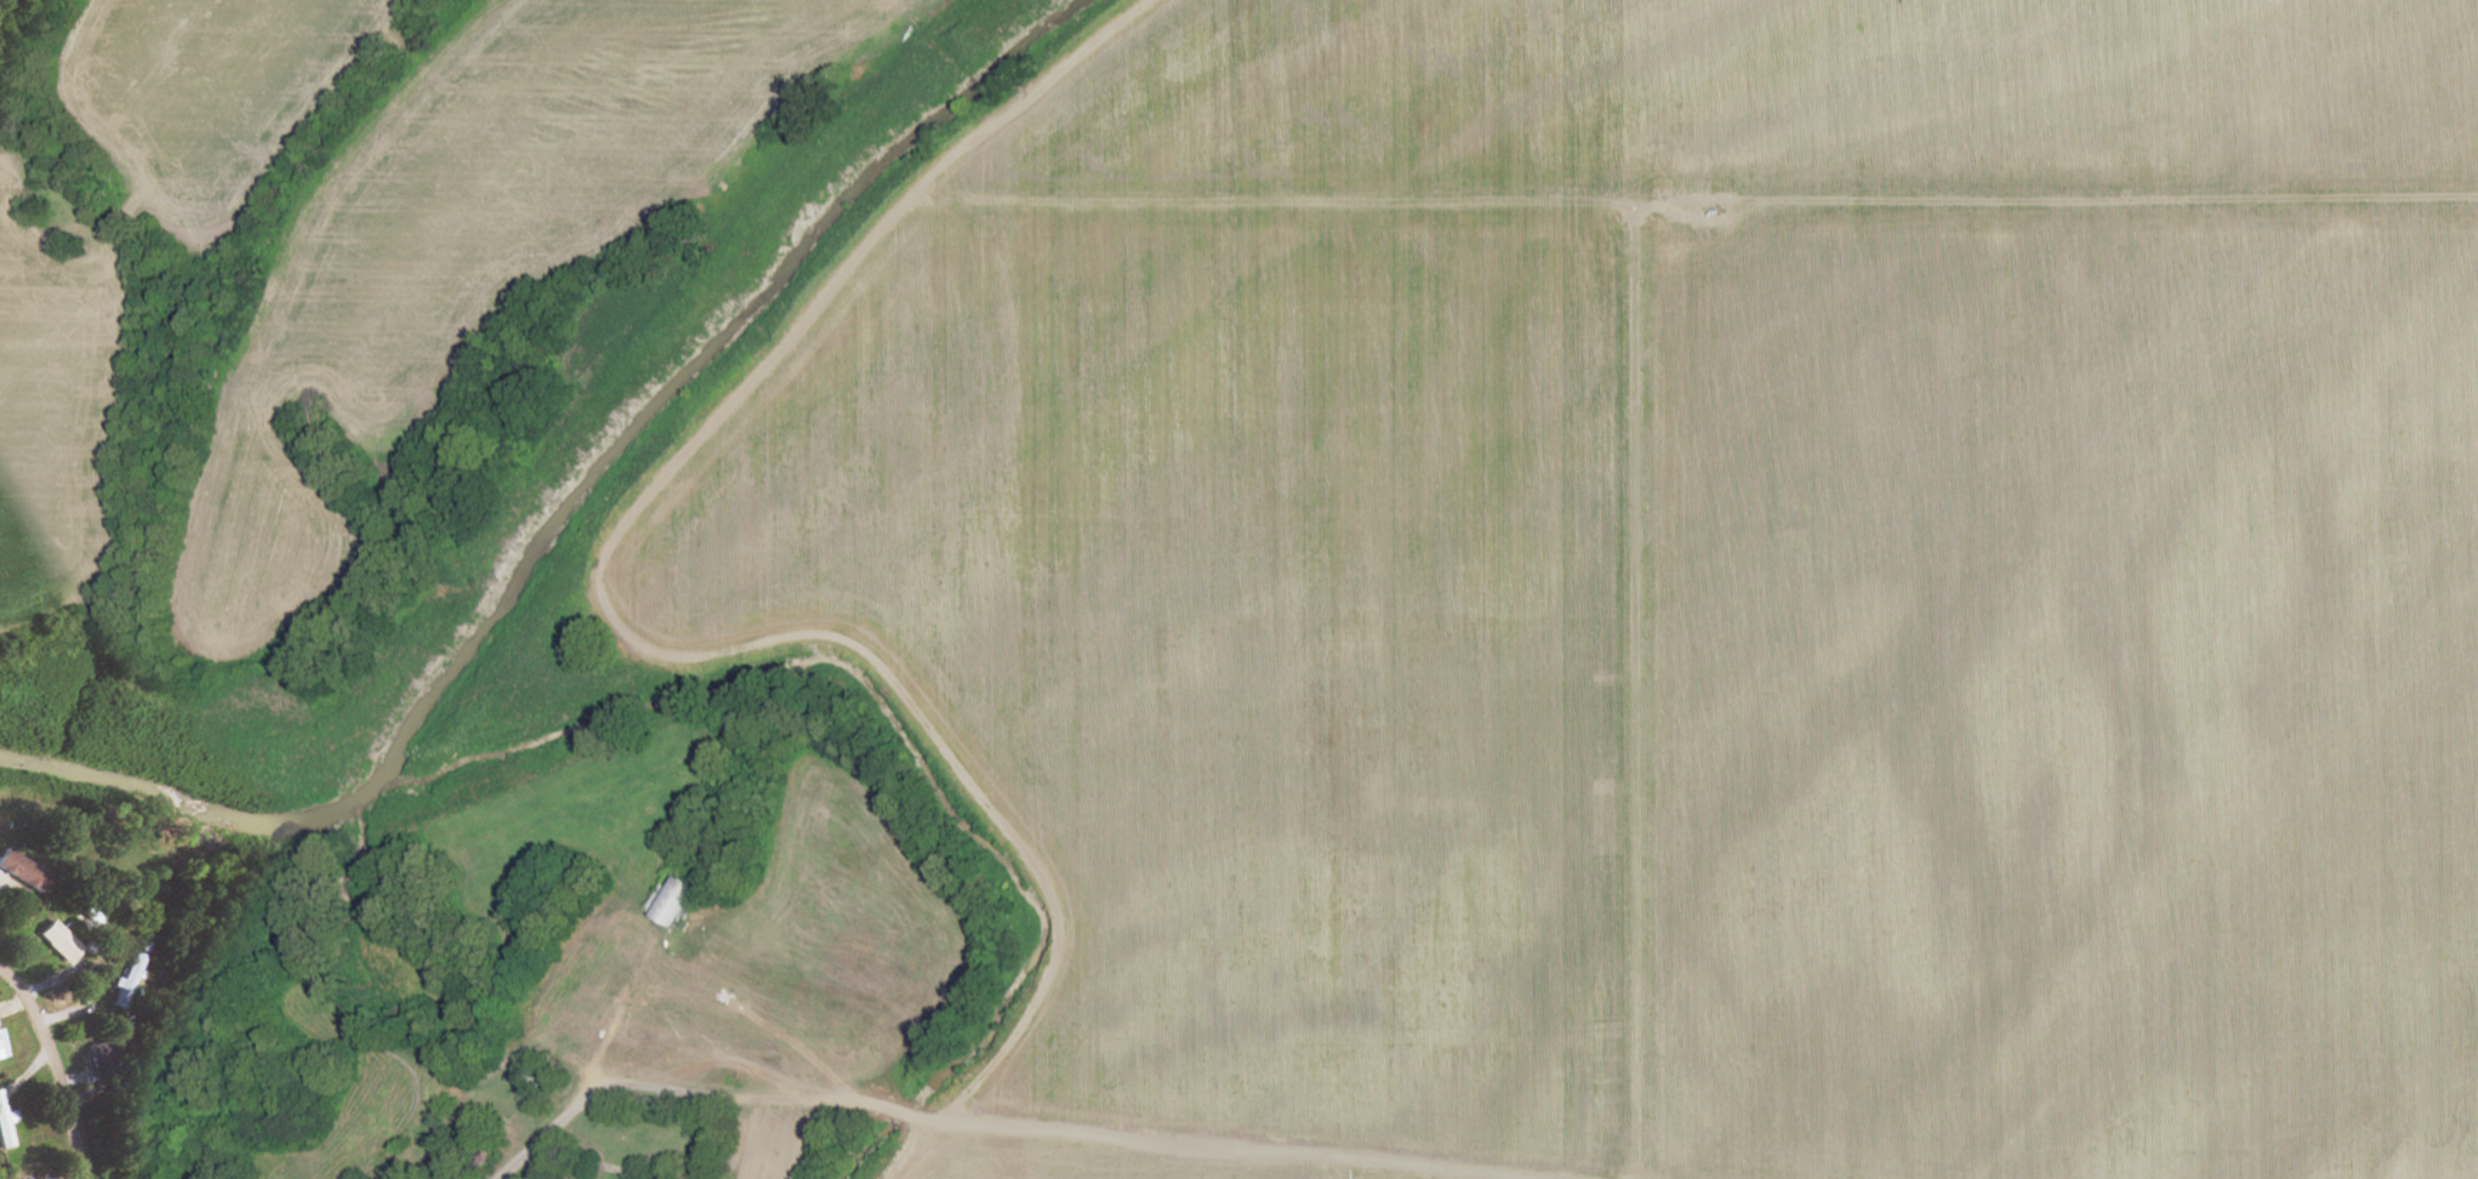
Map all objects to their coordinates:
building: (18, 873)
building: (668, 902)
building: (90, 915)
building: (52, 940)
building: (125, 981)
building: (0, 1054)
building: (98, 1054)
road: (51, 1071)
road: (1081, 1132)

